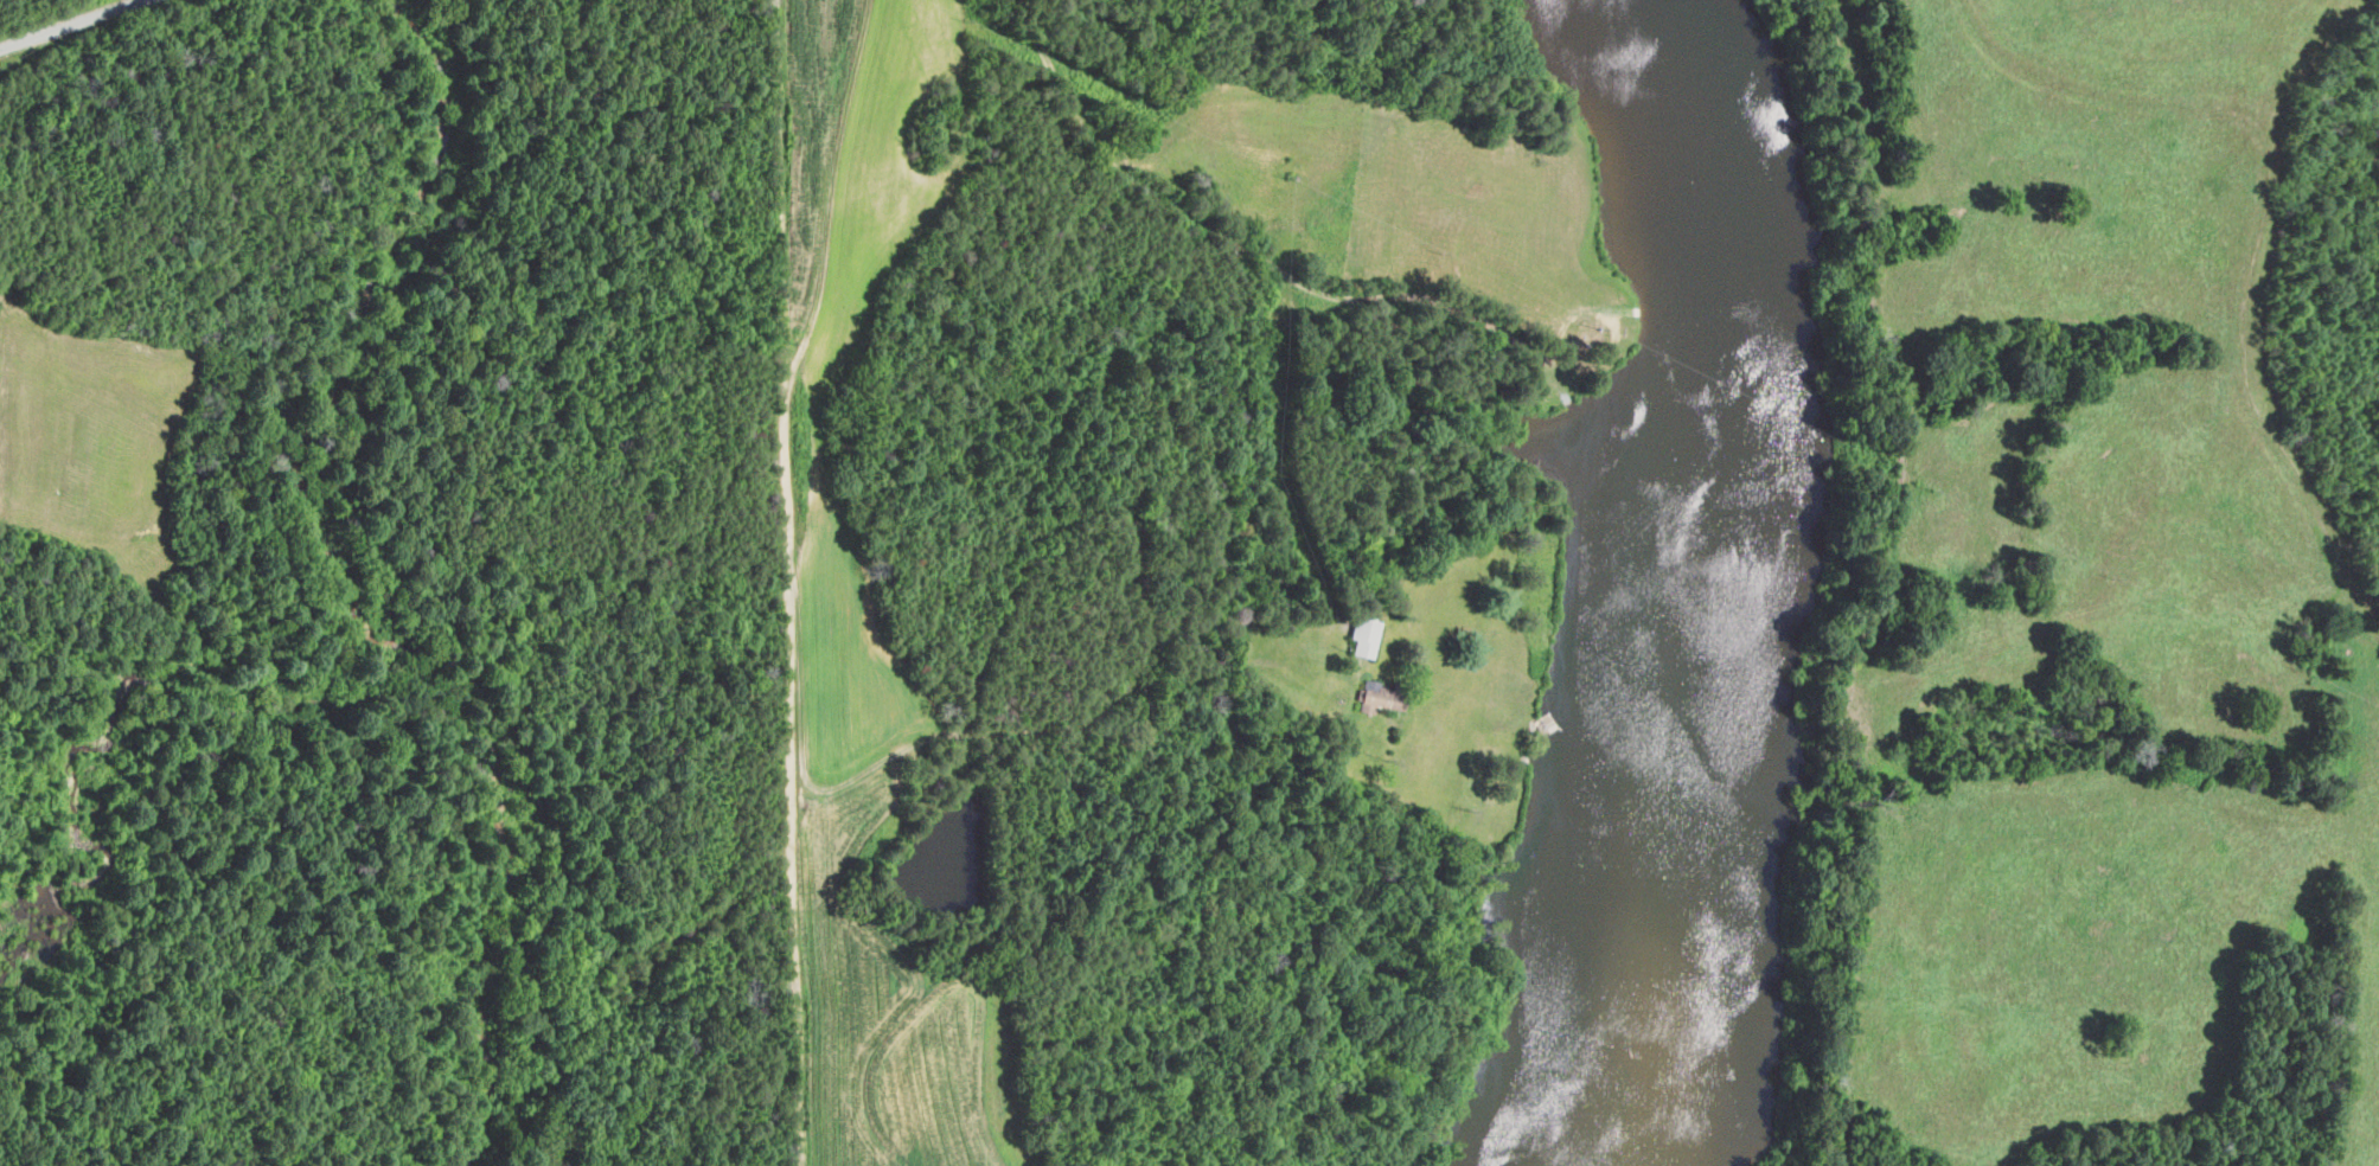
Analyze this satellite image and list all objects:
road: (57, 17)
road: (1220, 241)
road: (773, 581)
building: (1363, 634)
building: (1376, 696)

